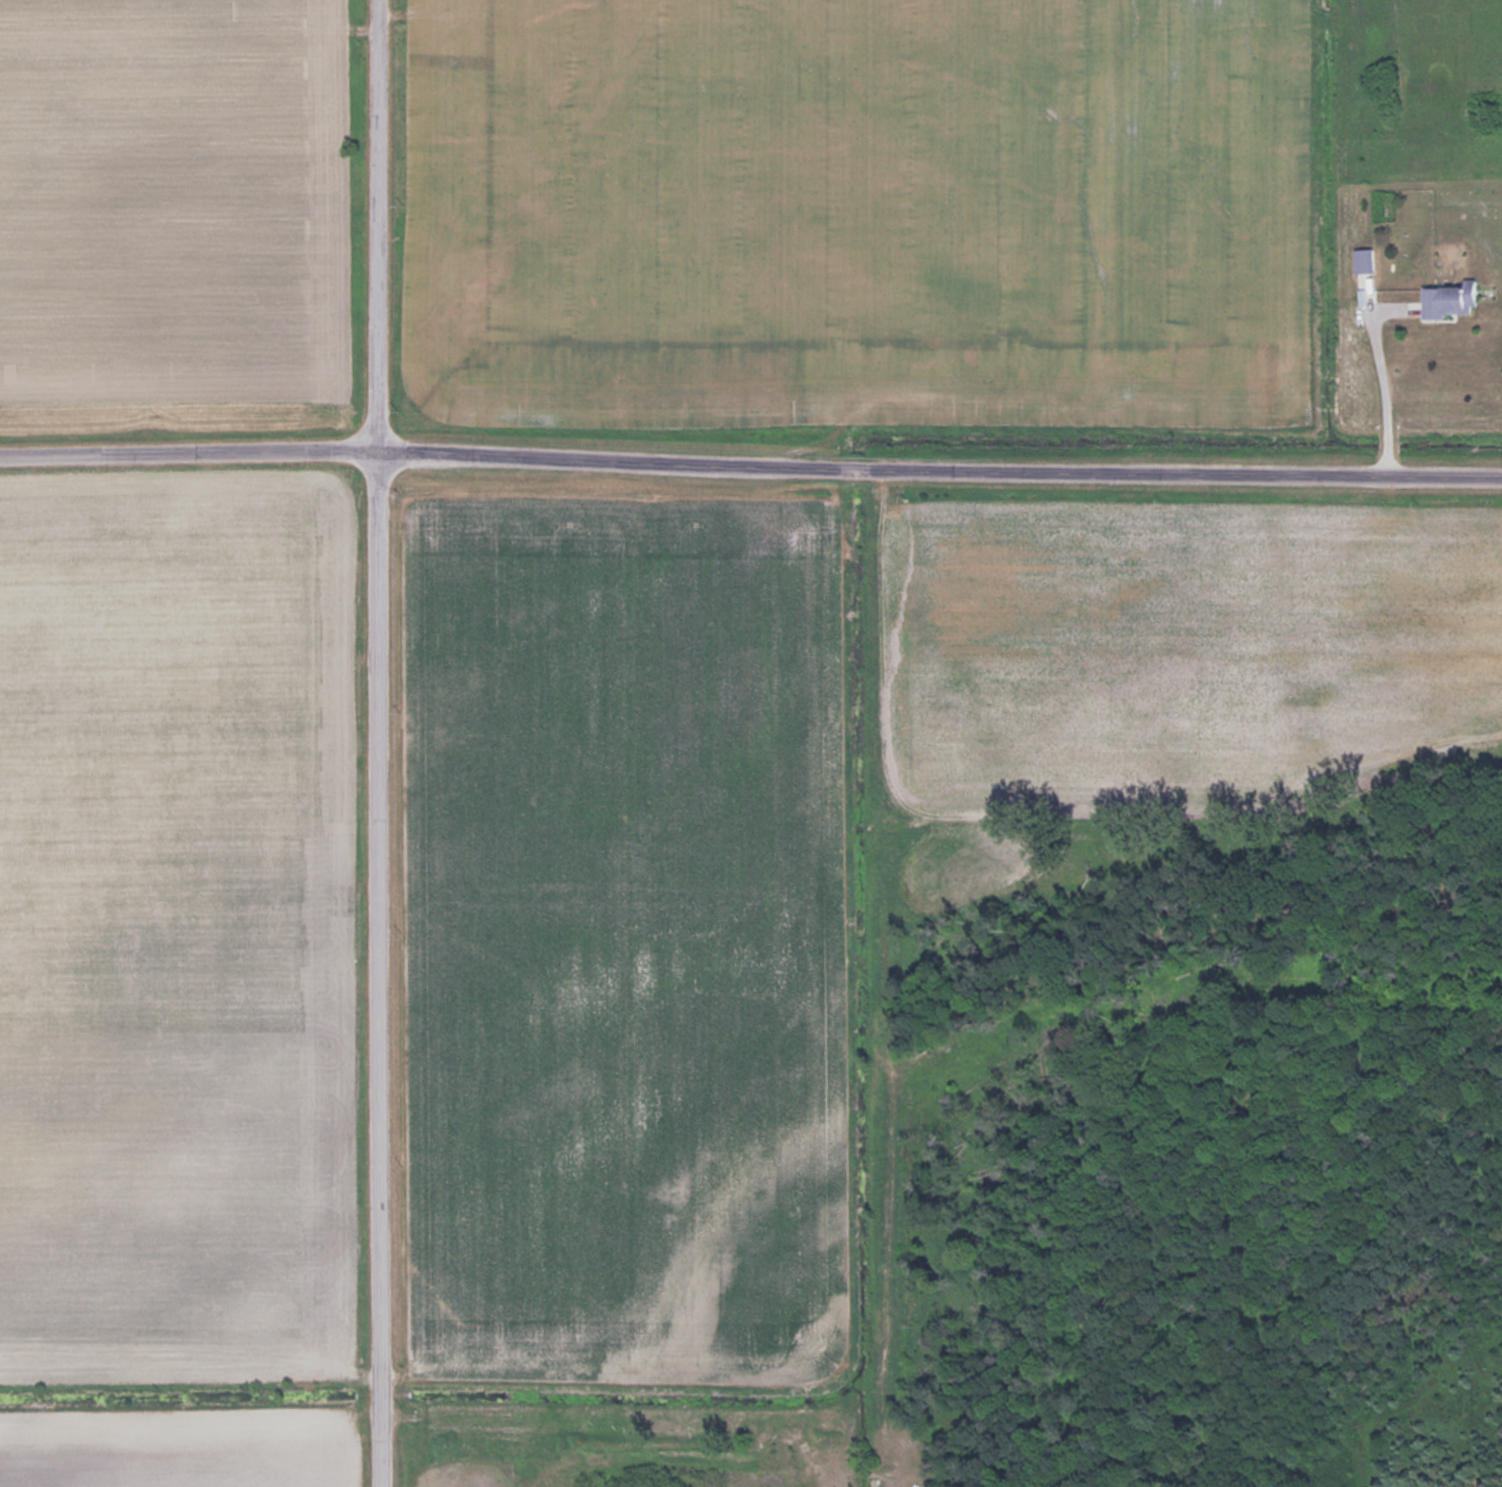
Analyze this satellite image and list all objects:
crop: (851, 212)
crop: (170, 217)
road: (376, 224)
building: (1364, 258)
building: (1449, 298)
road: (1375, 376)
road: (750, 460)
road: (377, 967)

